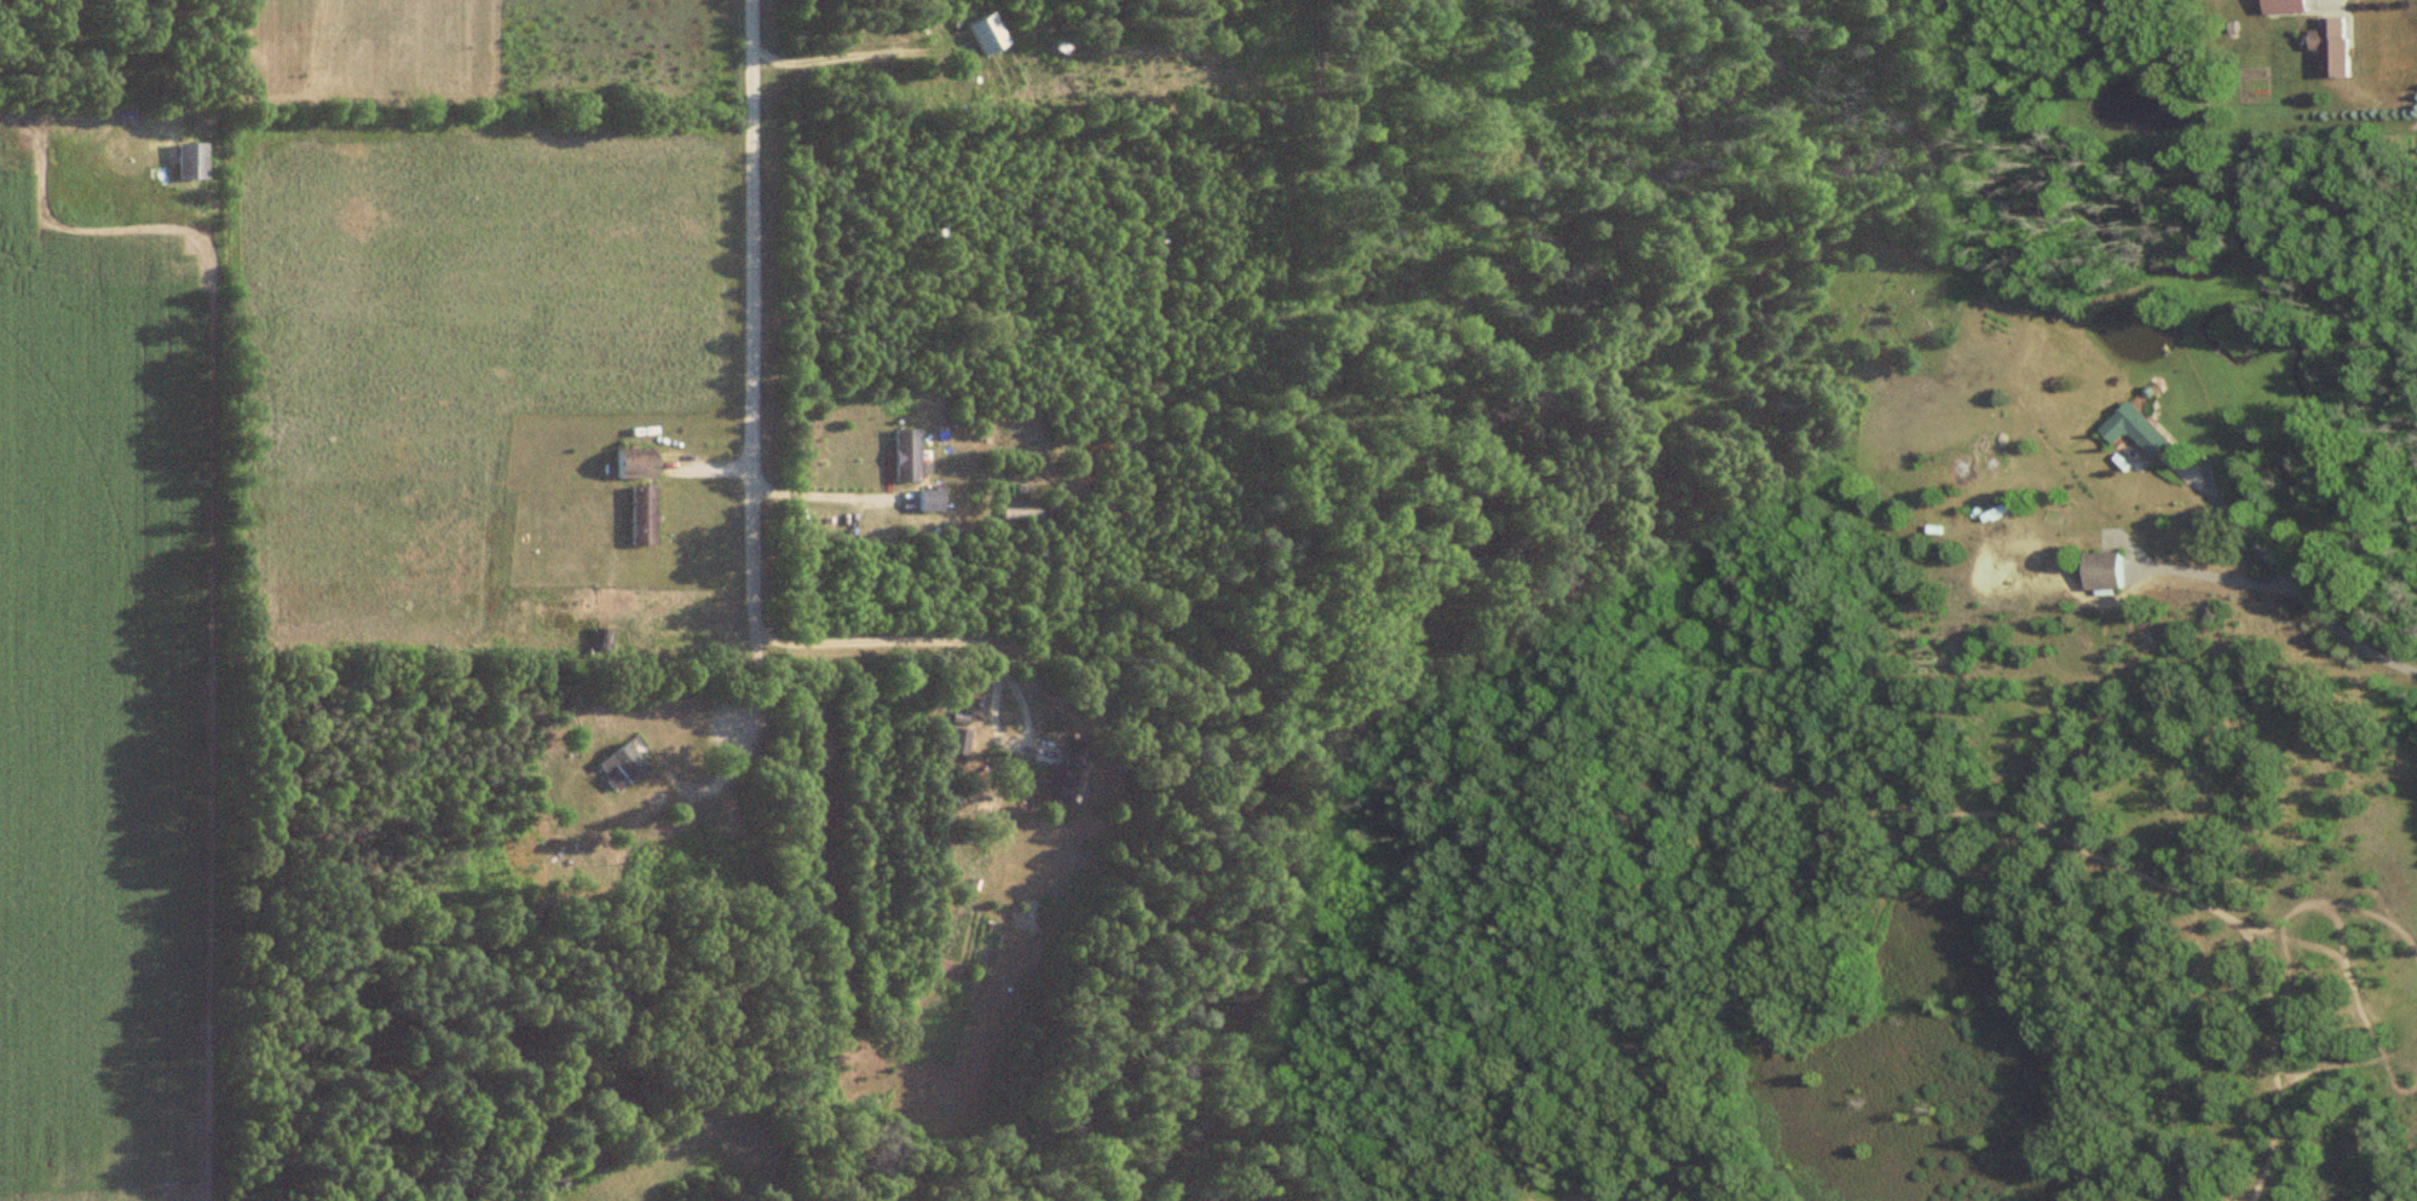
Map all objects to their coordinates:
building: (2295, 6)
building: (2337, 46)
road: (844, 62)
road: (240, 112)
building: (190, 162)
road: (746, 314)
building: (2145, 431)
building: (904, 457)
building: (634, 468)
road: (821, 493)
building: (928, 502)
building: (640, 516)
building: (2109, 571)
road: (2214, 579)
road: (2286, 581)
building: (595, 642)
road: (975, 643)
road: (745, 717)
building: (627, 762)
building: (1068, 780)

